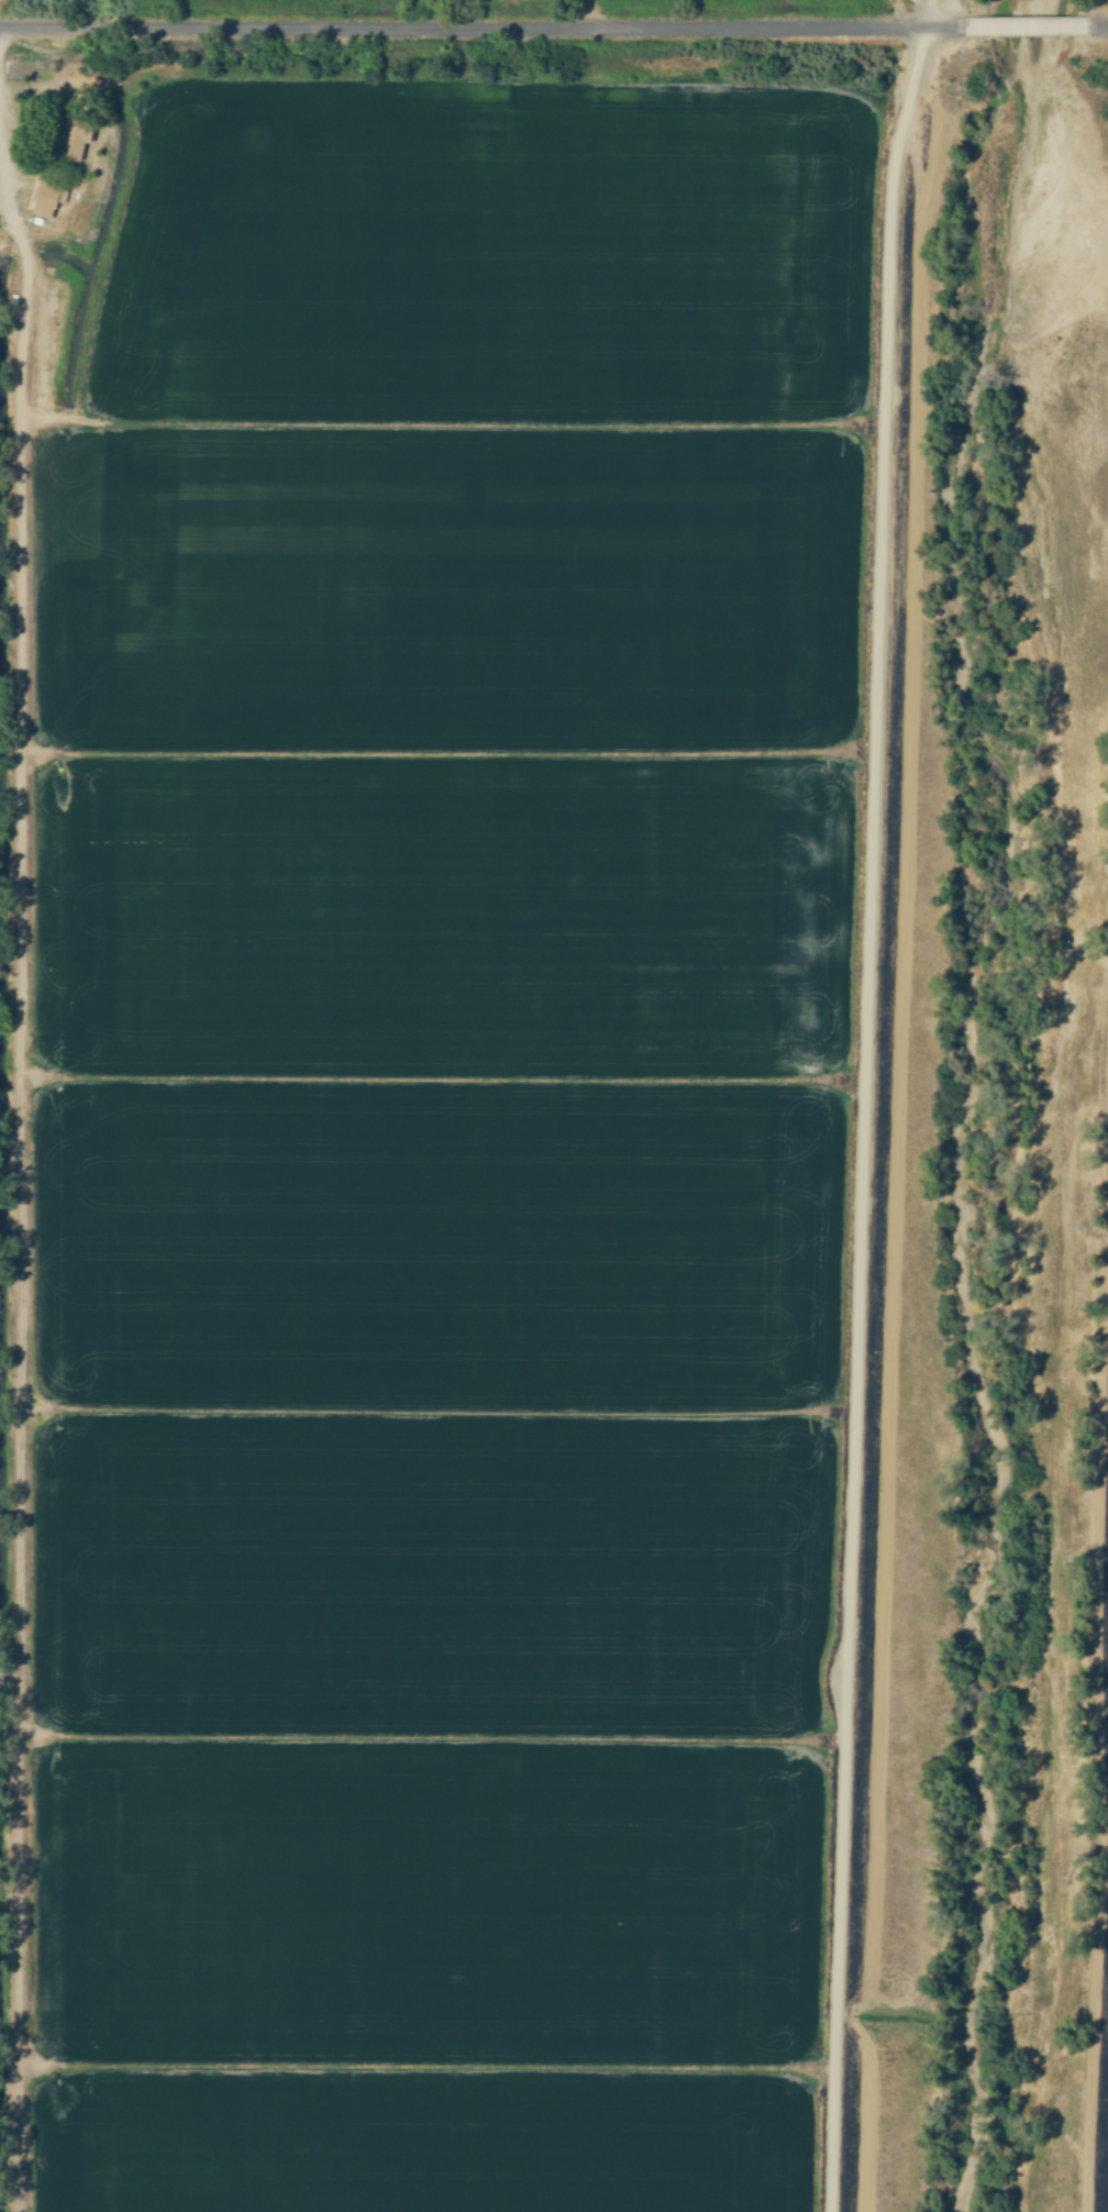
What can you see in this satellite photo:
road: (949, 20)
road: (554, 36)

